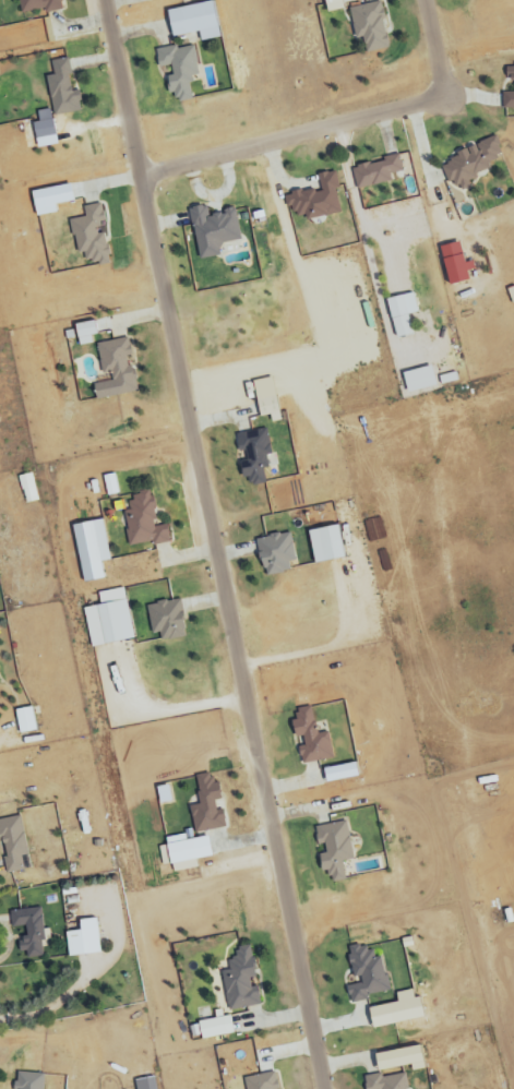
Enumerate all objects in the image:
building: (38, 5)
building: (332, 5)
building: (192, 21)
building: (368, 26)
road: (433, 40)
building: (178, 70)
building: (509, 73)
building: (61, 89)
building: (507, 100)
road: (295, 134)
building: (469, 164)
building: (375, 172)
building: (49, 200)
building: (315, 200)
building: (212, 230)
building: (89, 236)
building: (453, 263)
building: (401, 314)
building: (83, 334)
building: (115, 369)
building: (252, 457)
building: (27, 488)
building: (143, 523)
road: (215, 543)
building: (324, 544)
building: (91, 550)
building: (274, 554)
building: (108, 620)
building: (167, 620)
building: (24, 721)
building: (310, 737)
building: (205, 805)
building: (12, 843)
building: (333, 848)
building: (183, 852)
building: (28, 932)
building: (82, 938)
building: (364, 973)
building: (240, 981)
building: (395, 1010)
building: (214, 1027)
building: (28, 1080)
building: (261, 1081)
building: (383, 1081)
building: (144, 1084)

